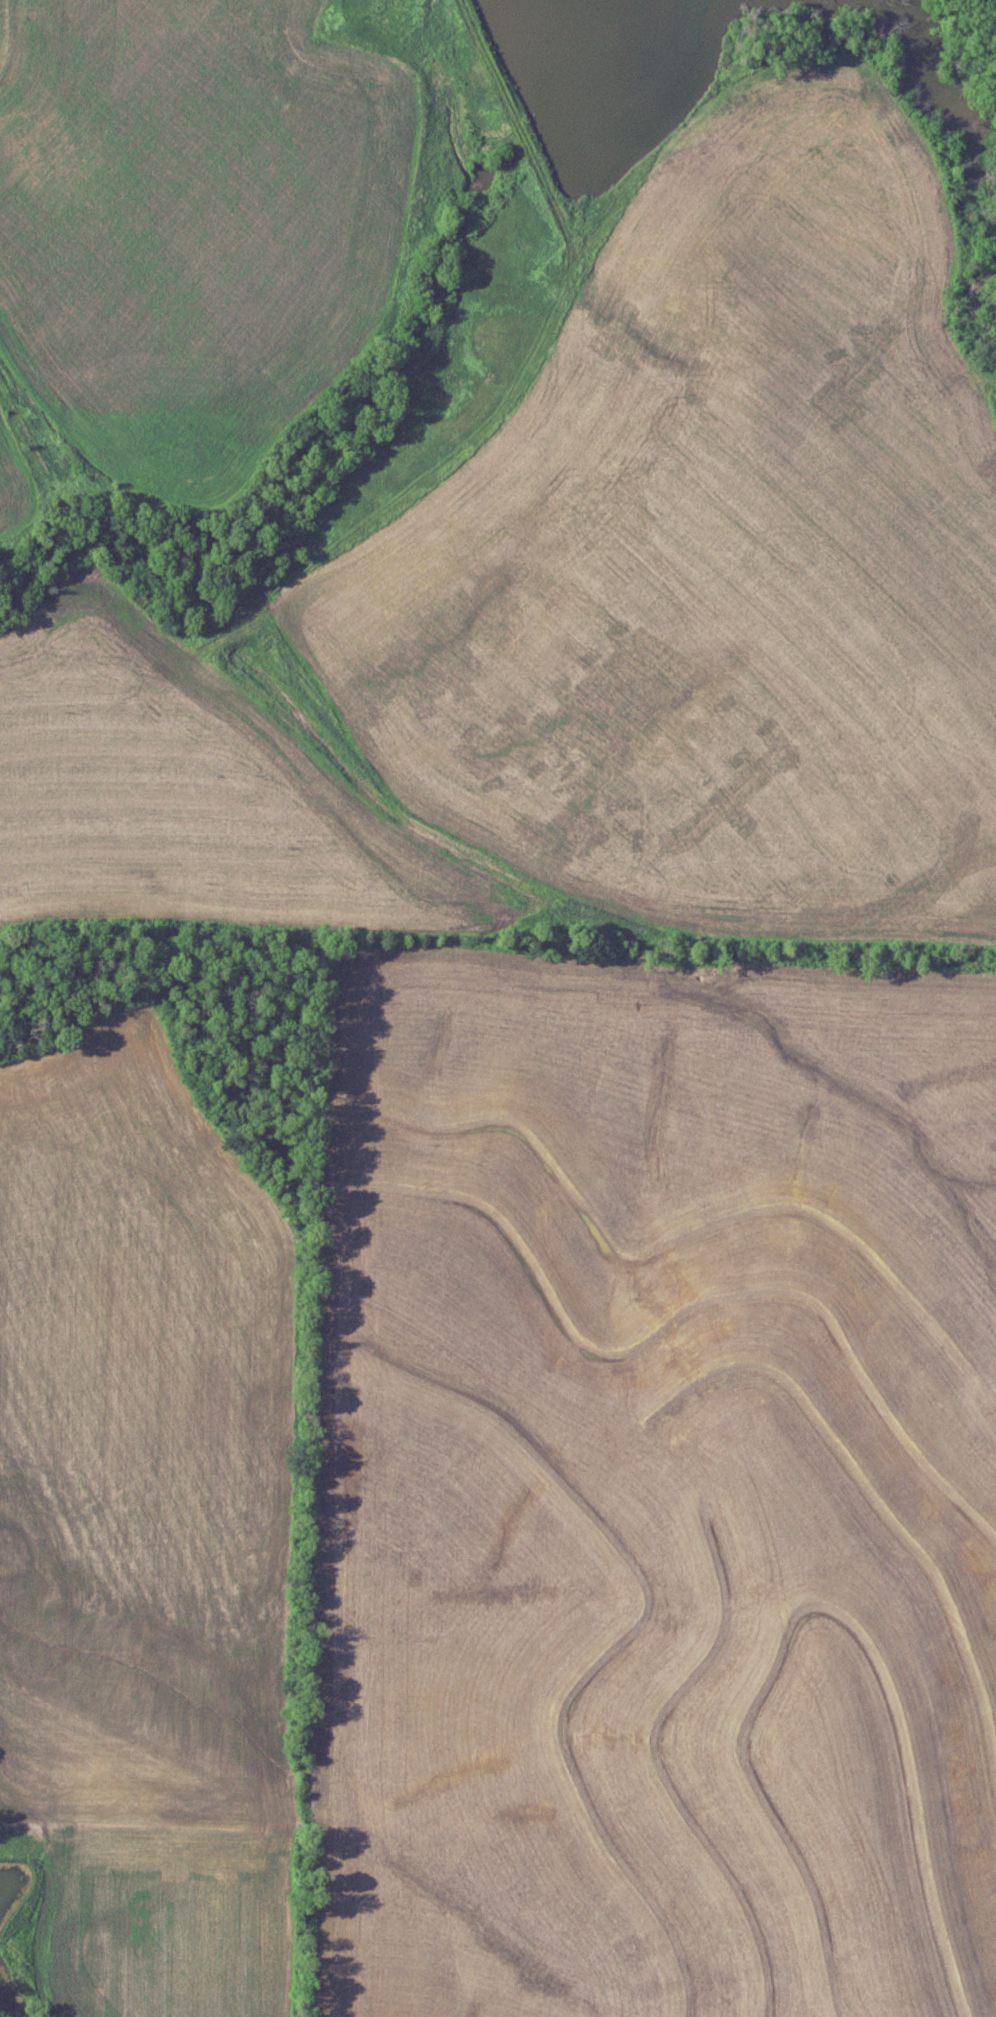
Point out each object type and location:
dam: (527, 92)

